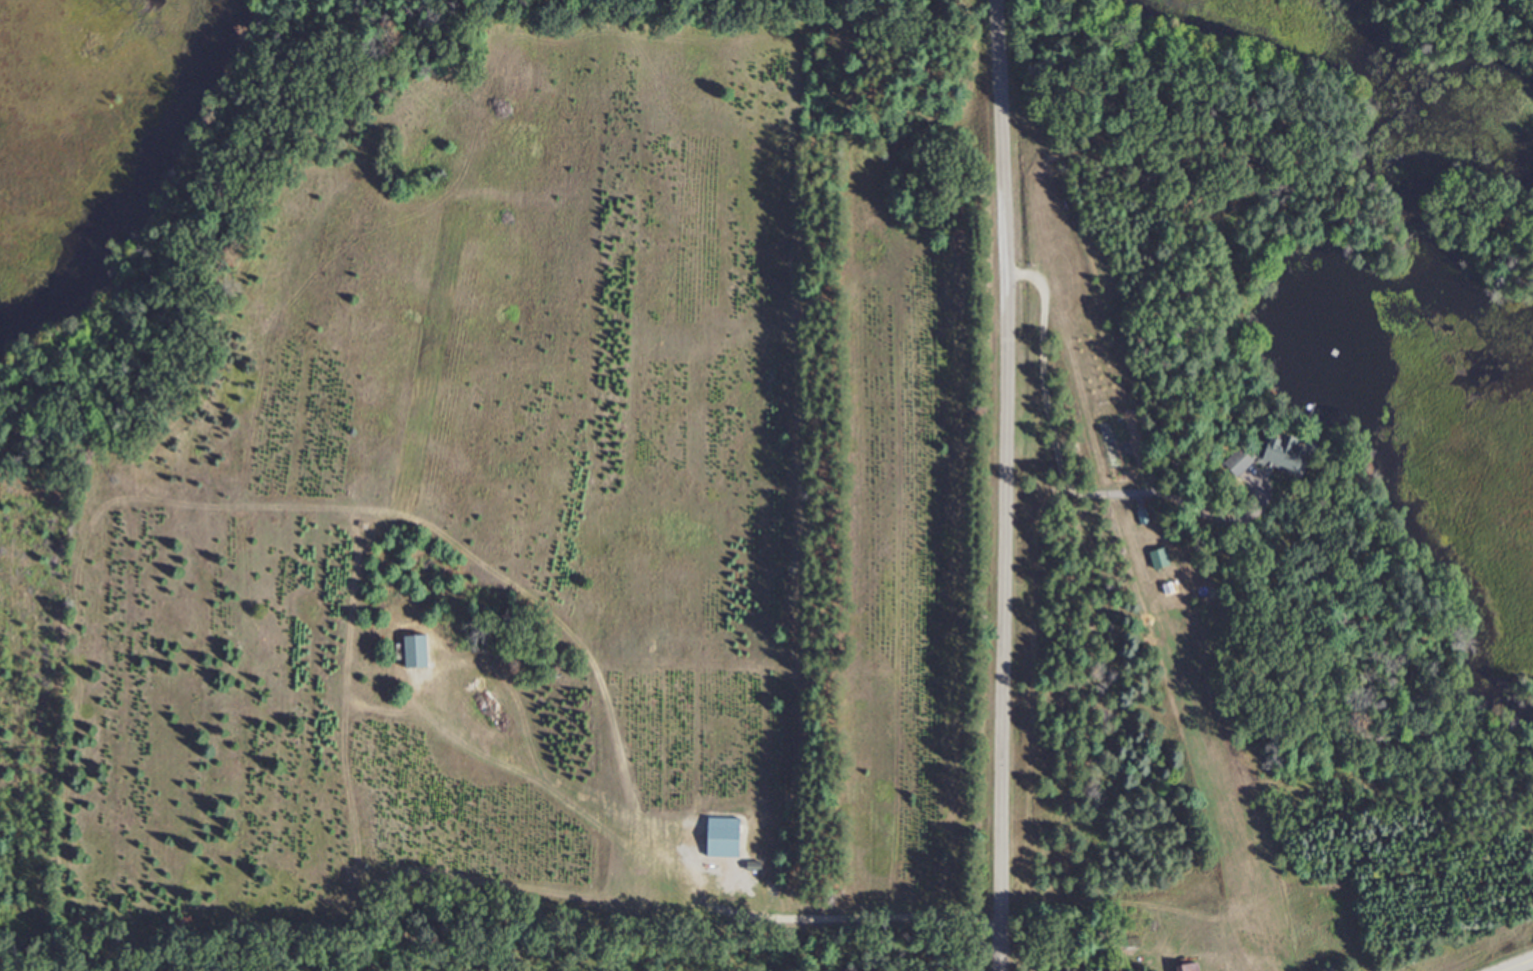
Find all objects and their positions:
building: (1273, 454)
road: (1004, 485)
road: (1064, 487)
building: (415, 651)
building: (723, 836)
road: (842, 918)
road: (1519, 965)
building: (1187, 967)

